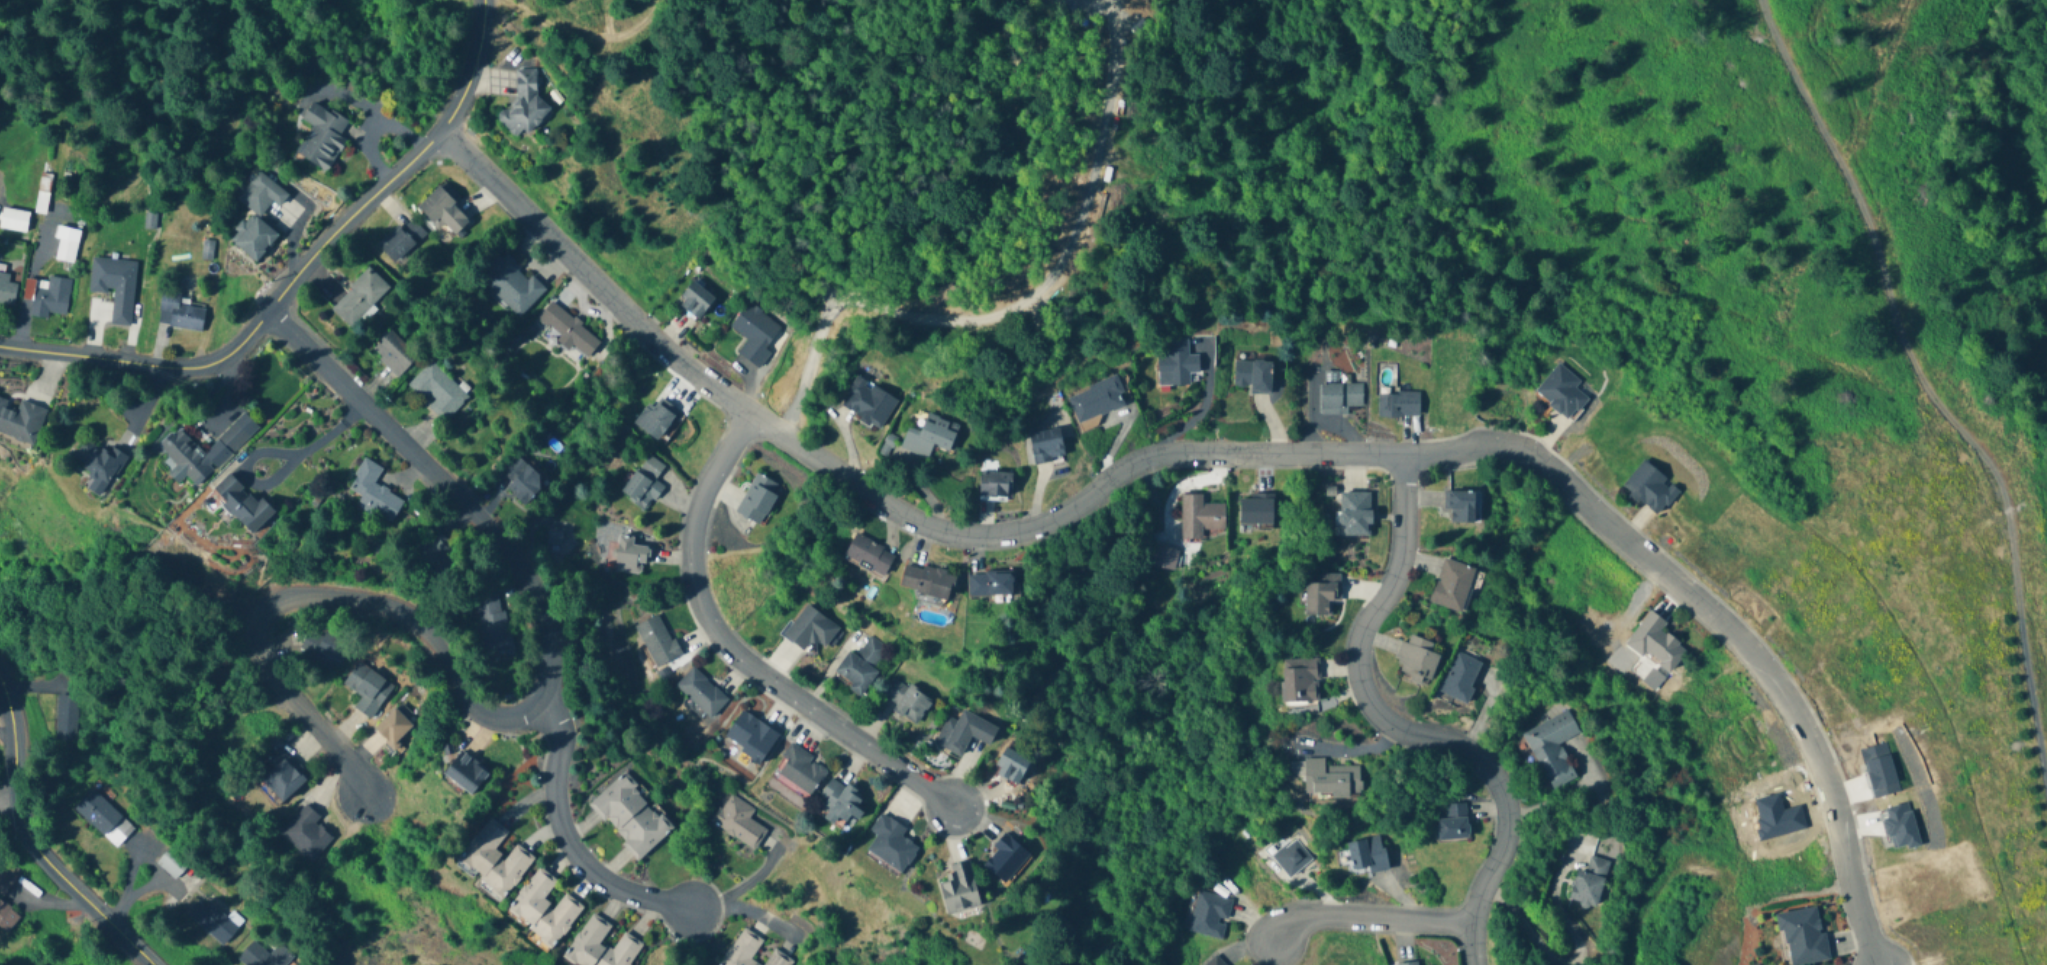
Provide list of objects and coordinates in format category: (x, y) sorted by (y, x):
road: (473, 67)
building: (525, 106)
road: (370, 132)
building: (322, 137)
building: (42, 194)
building: (442, 211)
building: (257, 216)
building: (13, 219)
building: (402, 238)
building: (65, 244)
building: (113, 279)
building: (511, 283)
building: (6, 288)
building: (46, 295)
building: (359, 297)
building: (695, 300)
road: (1019, 301)
building: (178, 313)
road: (255, 325)
building: (568, 330)
building: (754, 334)
building: (393, 353)
building: (1176, 365)
building: (1253, 376)
road: (1925, 386)
building: (437, 390)
building: (1562, 392)
building: (1338, 398)
building: (1097, 400)
building: (868, 403)
building: (1398, 404)
road: (1197, 413)
building: (20, 420)
building: (659, 420)
building: (930, 437)
building: (1047, 446)
road: (1479, 448)
building: (206, 449)
building: (99, 461)
road: (275, 480)
building: (522, 481)
building: (644, 484)
building: (996, 485)
building: (1650, 488)
building: (374, 492)
road: (871, 494)
building: (758, 500)
building: (242, 503)
building: (1460, 506)
building: (1257, 510)
building: (1356, 514)
building: (1200, 517)
building: (437, 551)
building: (870, 555)
building: (631, 556)
building: (928, 582)
building: (1453, 586)
building: (993, 587)
building: (1322, 595)
building: (493, 624)
building: (809, 629)
building: (658, 640)
building: (1656, 643)
building: (330, 649)
road: (737, 653)
building: (1417, 660)
building: (860, 667)
building: (1461, 678)
building: (1301, 681)
building: (367, 689)
building: (701, 693)
building: (906, 702)
road: (510, 715)
building: (66, 716)
building: (393, 727)
road: (6, 732)
building: (964, 733)
building: (751, 738)
building: (1552, 748)
building: (1012, 767)
building: (800, 770)
building: (466, 773)
building: (281, 776)
building: (1328, 778)
building: (842, 803)
building: (631, 816)
building: (103, 818)
building: (738, 822)
building: (1453, 823)
building: (306, 833)
road: (565, 835)
road: (31, 841)
building: (891, 844)
building: (1367, 854)
building: (1292, 858)
building: (495, 859)
building: (1007, 859)
building: (7, 877)
building: (1589, 882)
building: (961, 888)
building: (544, 908)
road: (1370, 914)
building: (1210, 915)
building: (7, 917)
building: (215, 922)
building: (1803, 936)
building: (601, 945)
building: (742, 949)
building: (264, 956)
road: (1571, 957)
building: (777, 959)
building: (1214, 961)
building: (1410, 963)

